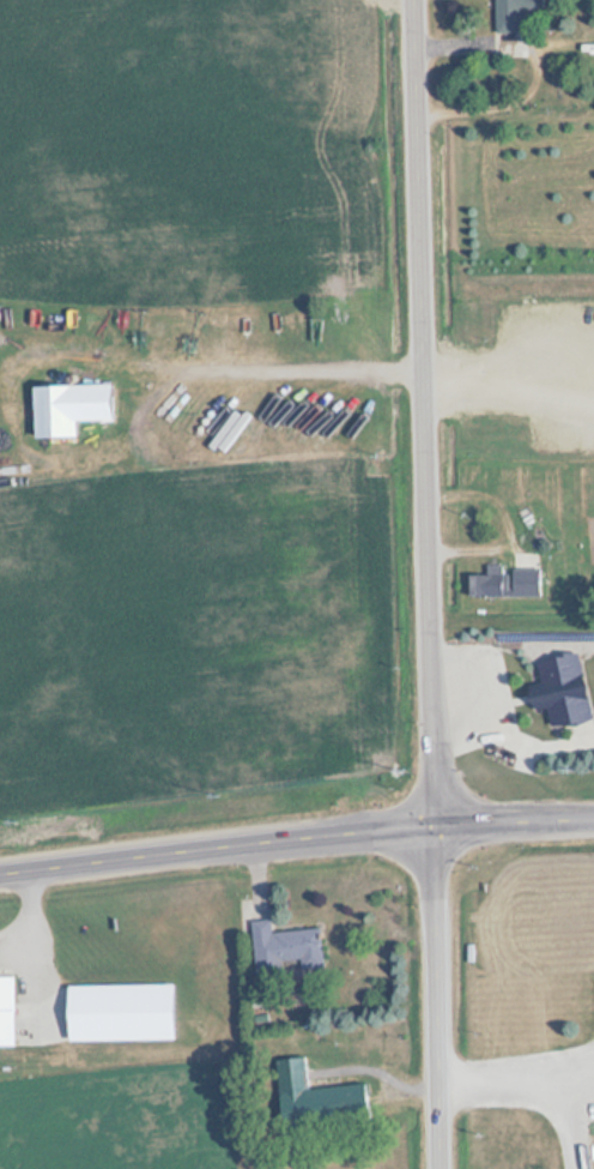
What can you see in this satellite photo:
building: (511, 13)
road: (424, 406)
building: (66, 409)
building: (485, 583)
building: (499, 709)
building: (517, 751)
road: (296, 831)
building: (284, 952)
road: (436, 992)
building: (6, 1011)
building: (314, 1091)

